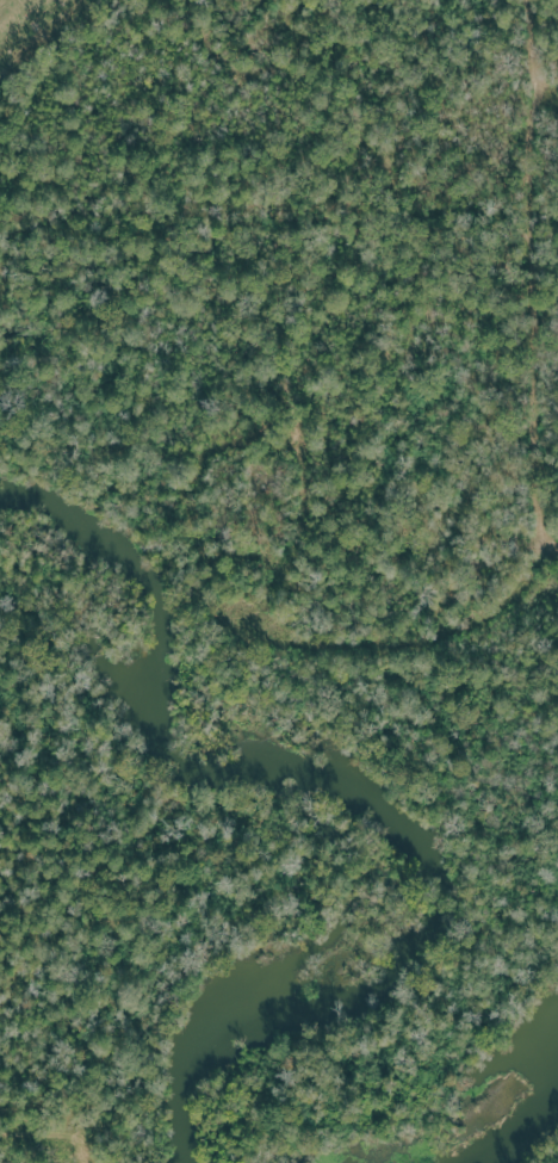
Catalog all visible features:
road: (538, 414)
river: (349, 782)
river: (496, 1106)

